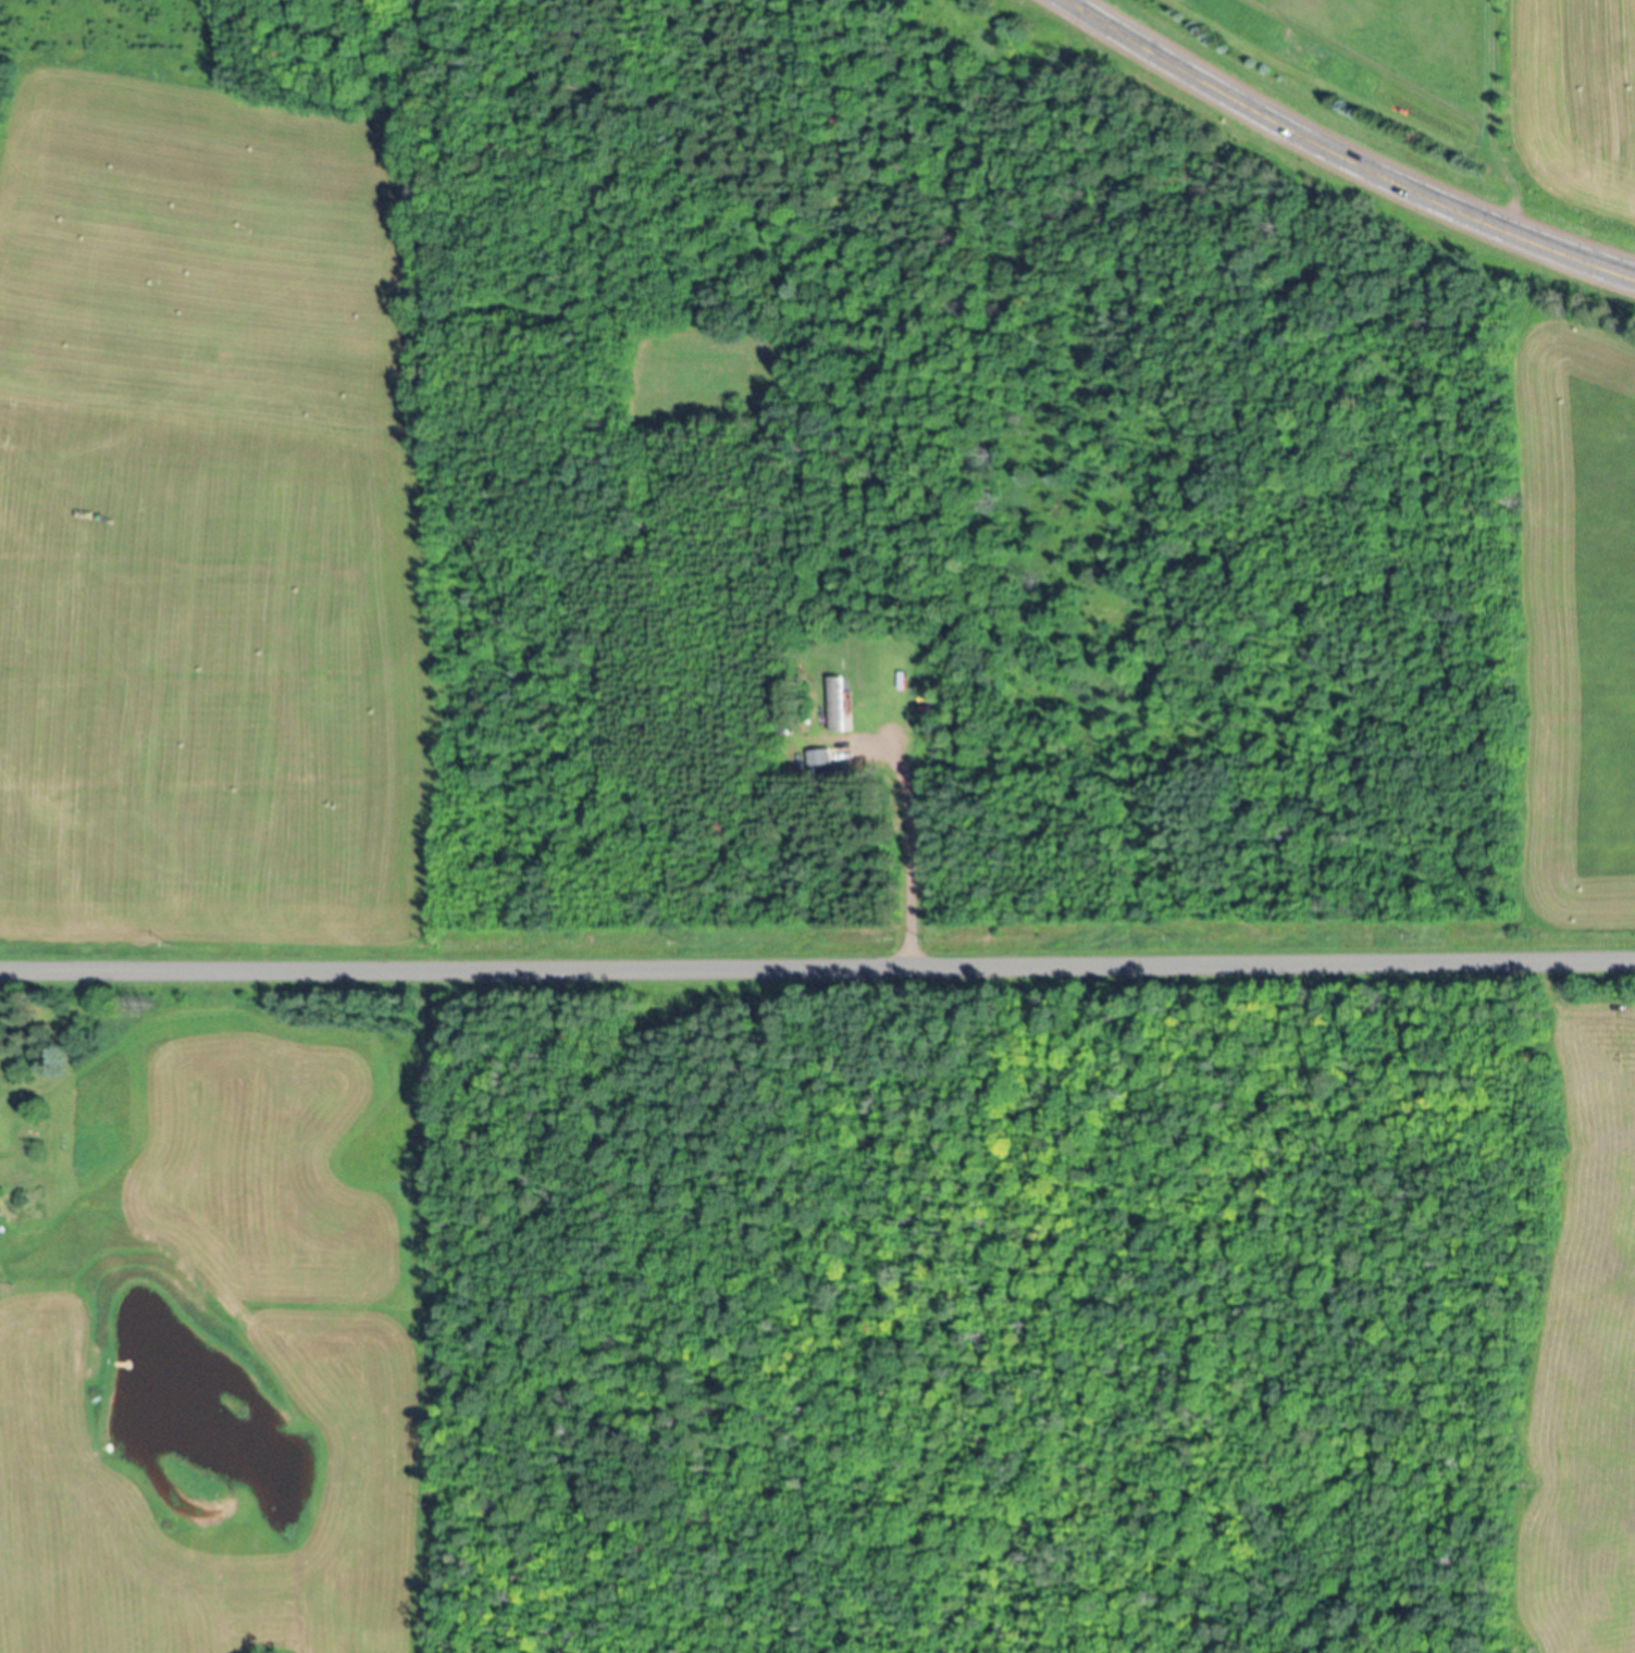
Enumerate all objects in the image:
road: (1339, 159)
crop: (206, 530)
crop: (1577, 608)
building: (839, 706)
building: (819, 759)
road: (906, 849)
crop: (141, 959)
road: (817, 969)
building: (8, 1167)

